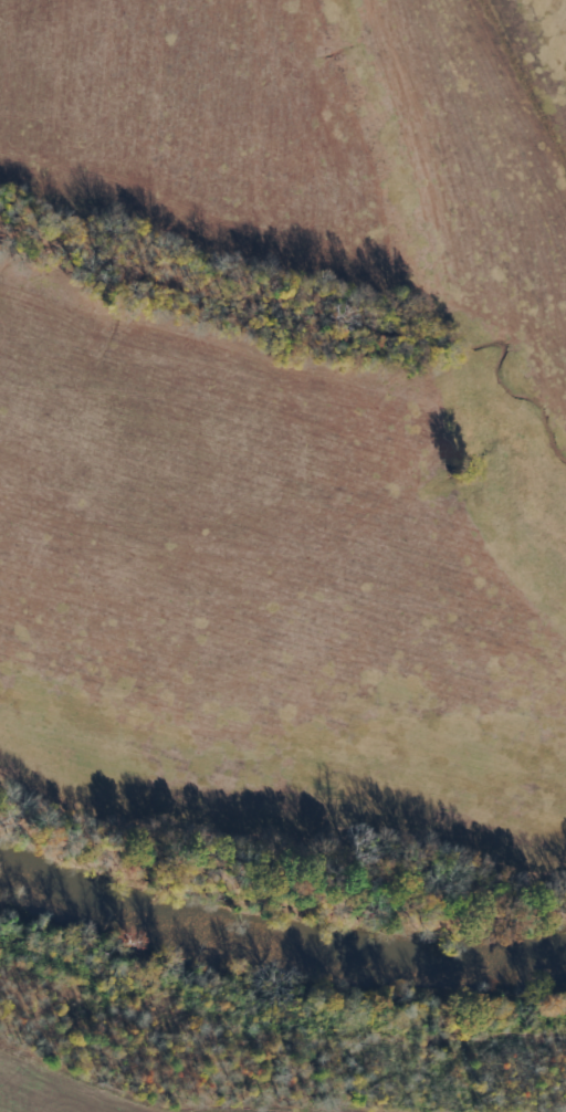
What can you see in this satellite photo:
river: (277, 945)

